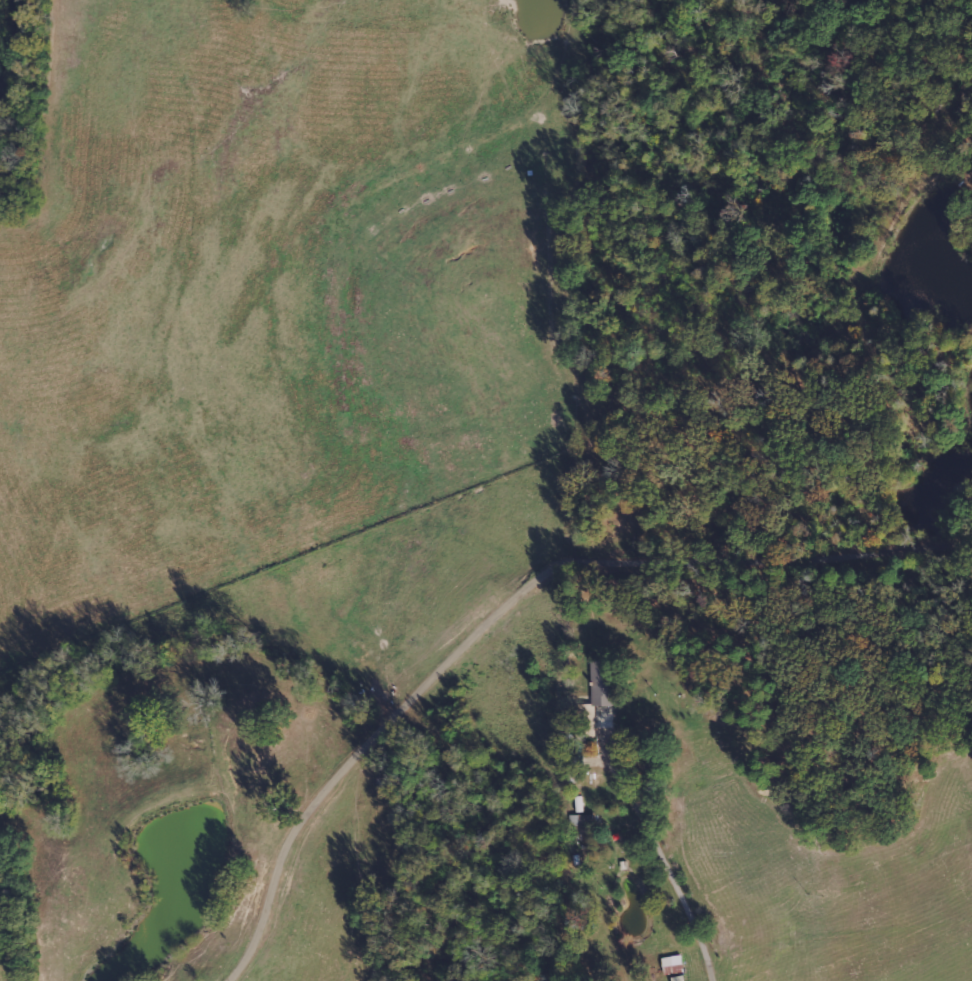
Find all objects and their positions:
building: (597, 695)
road: (695, 907)
building: (672, 965)

